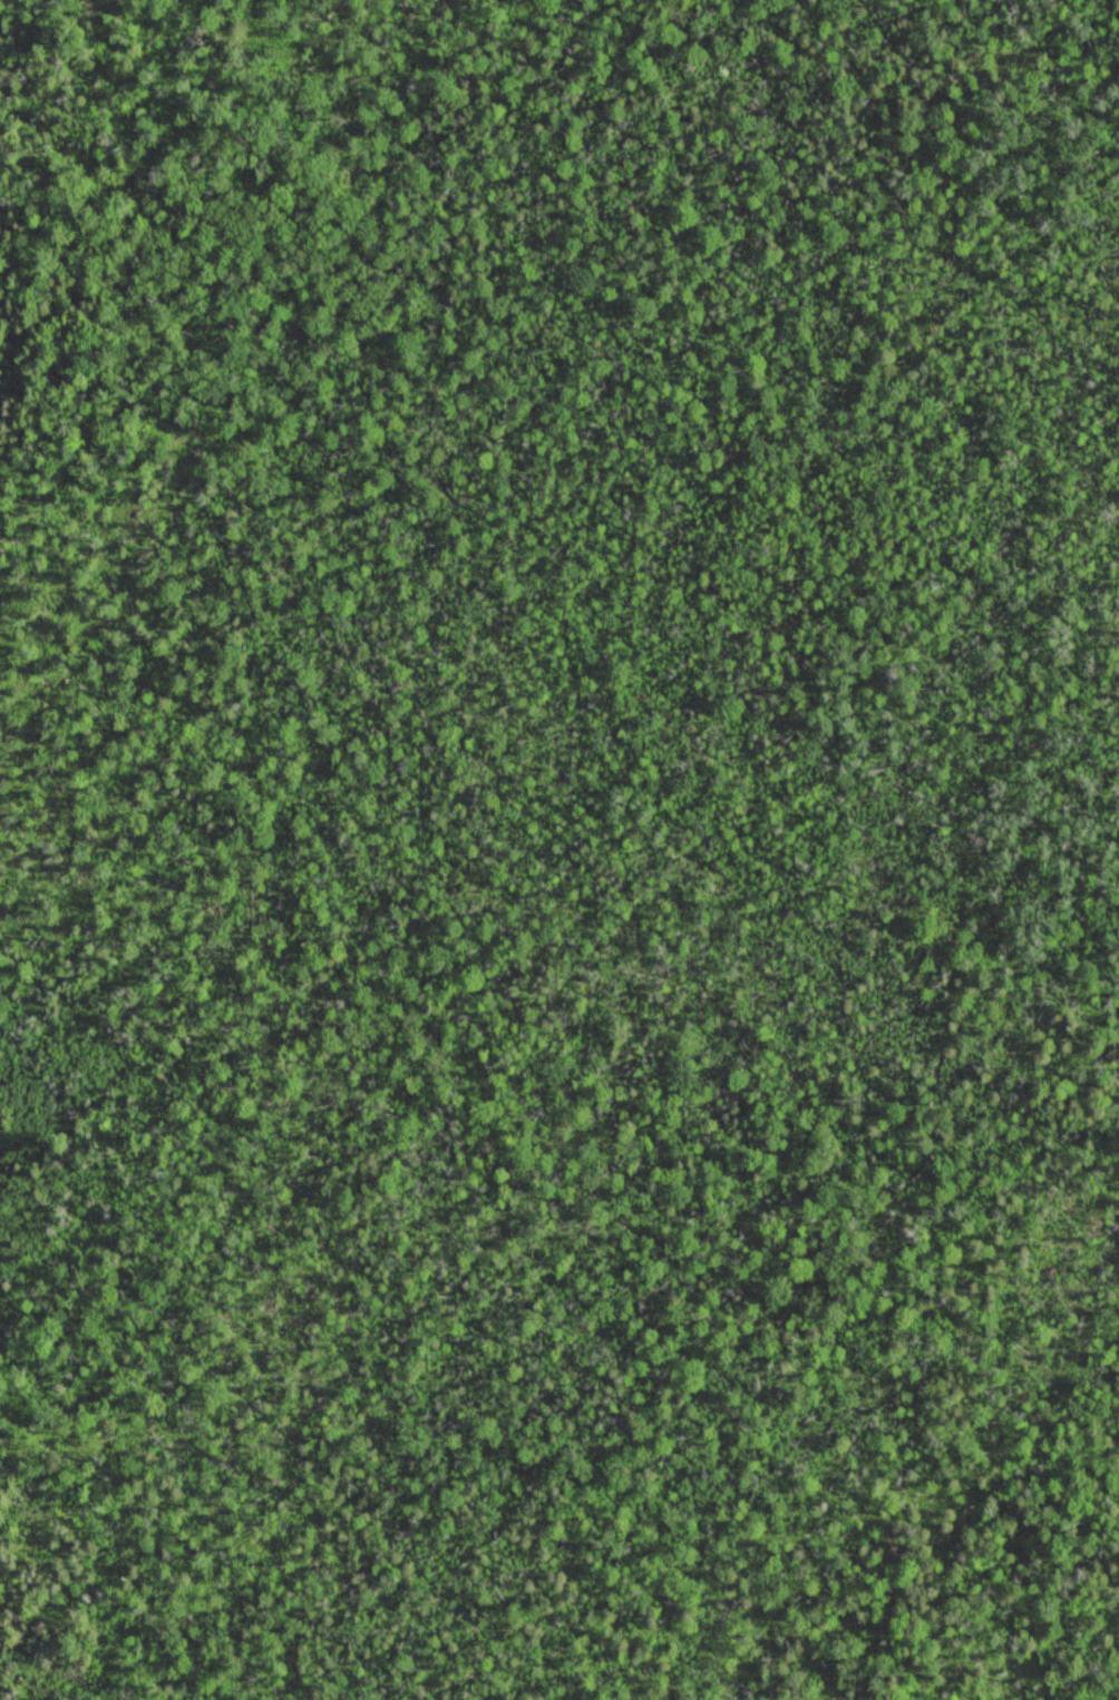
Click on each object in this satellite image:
river: (9, 1188)

